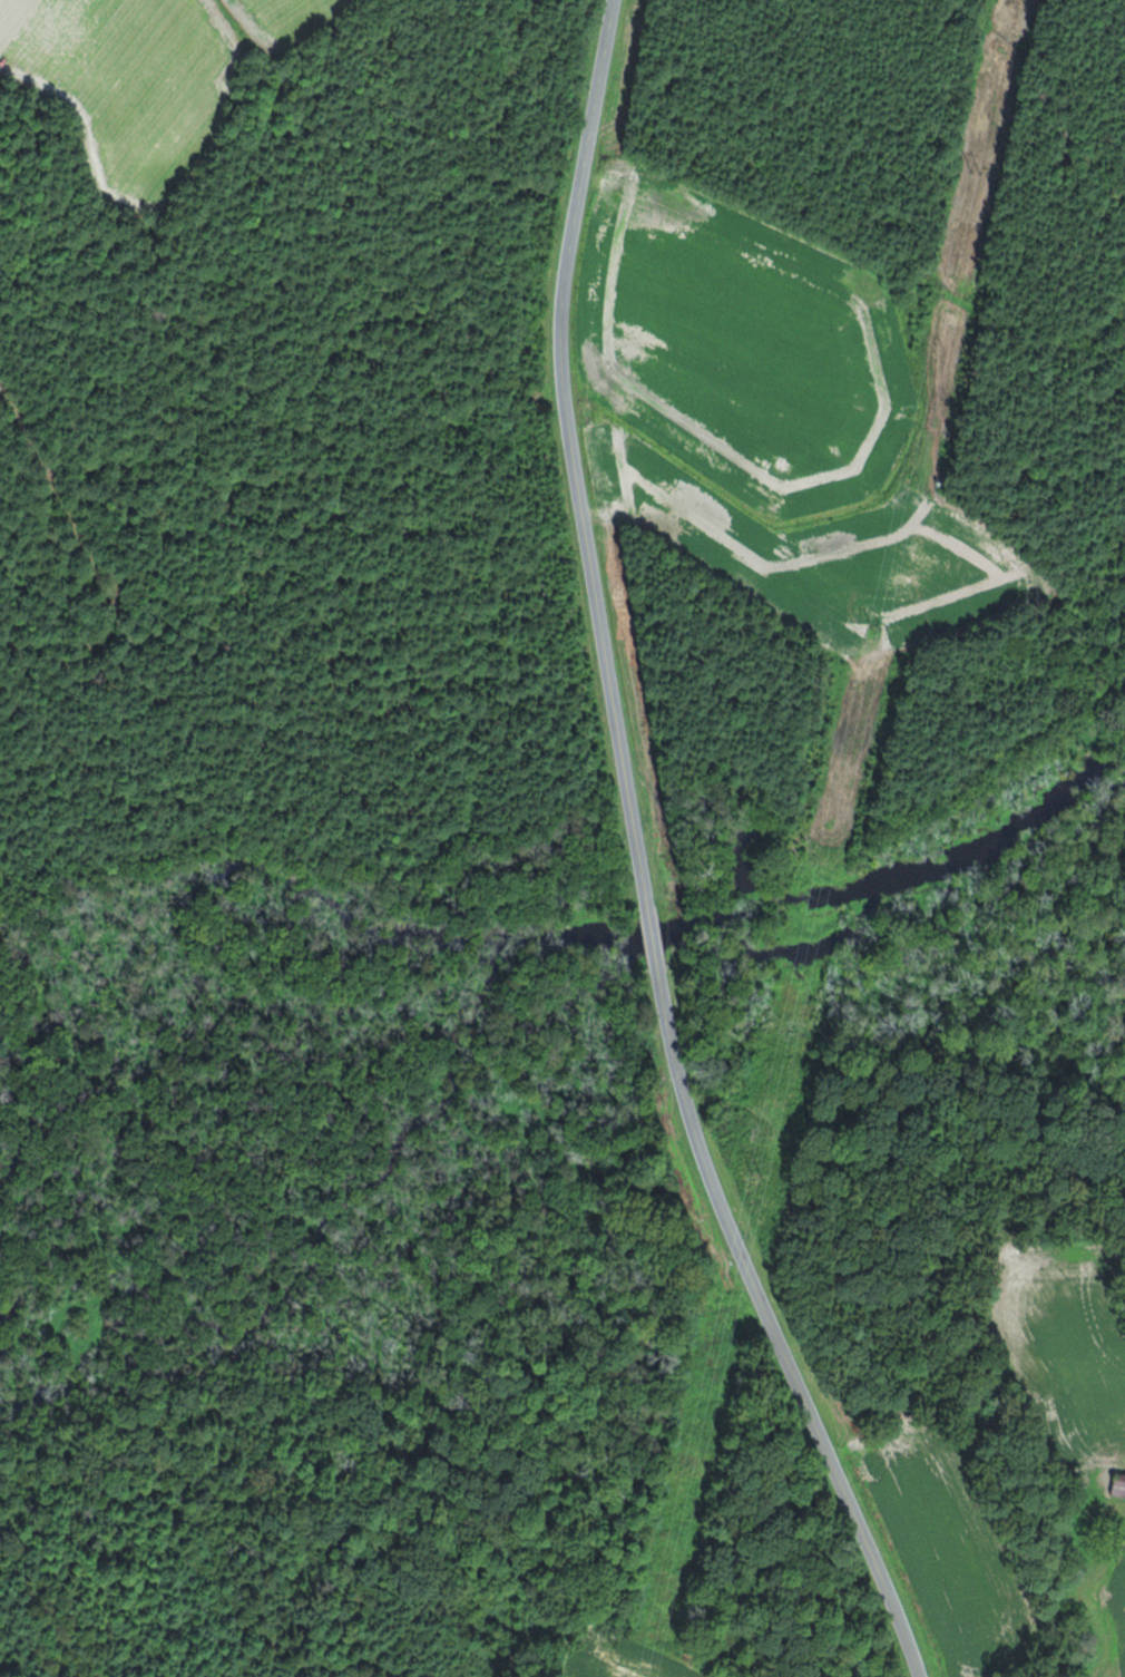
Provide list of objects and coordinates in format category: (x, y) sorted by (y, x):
power tower: (977, 174)
road: (573, 454)
power tower: (878, 627)
road: (654, 938)
road: (665, 1000)
power tower: (755, 1174)
road: (786, 1356)
building: (1121, 1486)

